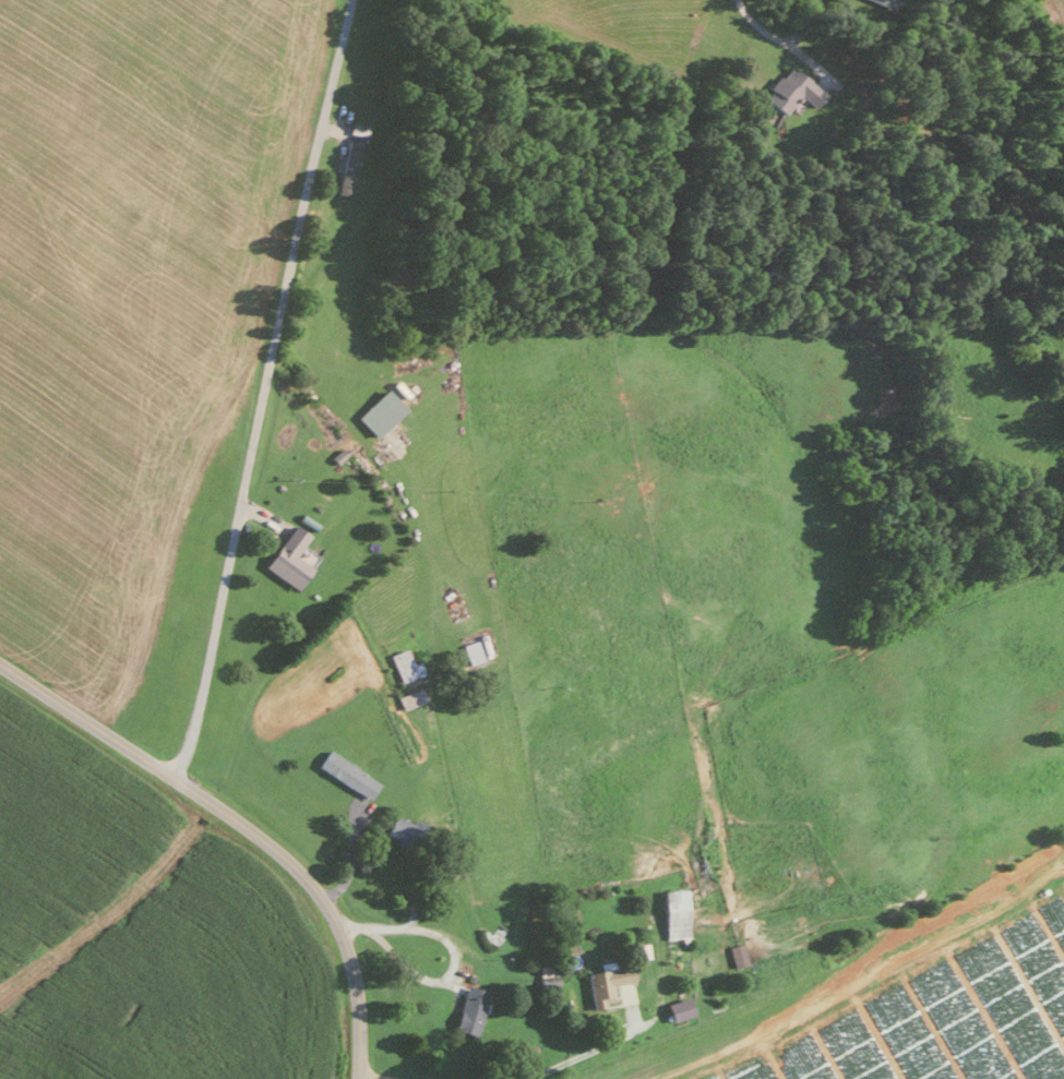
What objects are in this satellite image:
building: (885, 1)
road: (781, 38)
building: (789, 88)
building: (345, 167)
road: (260, 391)
building: (378, 411)
building: (286, 558)
building: (402, 664)
building: (346, 774)
road: (243, 826)
building: (398, 829)
building: (671, 913)
road: (450, 951)
building: (736, 955)
building: (605, 981)
building: (676, 1008)
building: (469, 1009)
road: (576, 1053)
road: (362, 1078)

